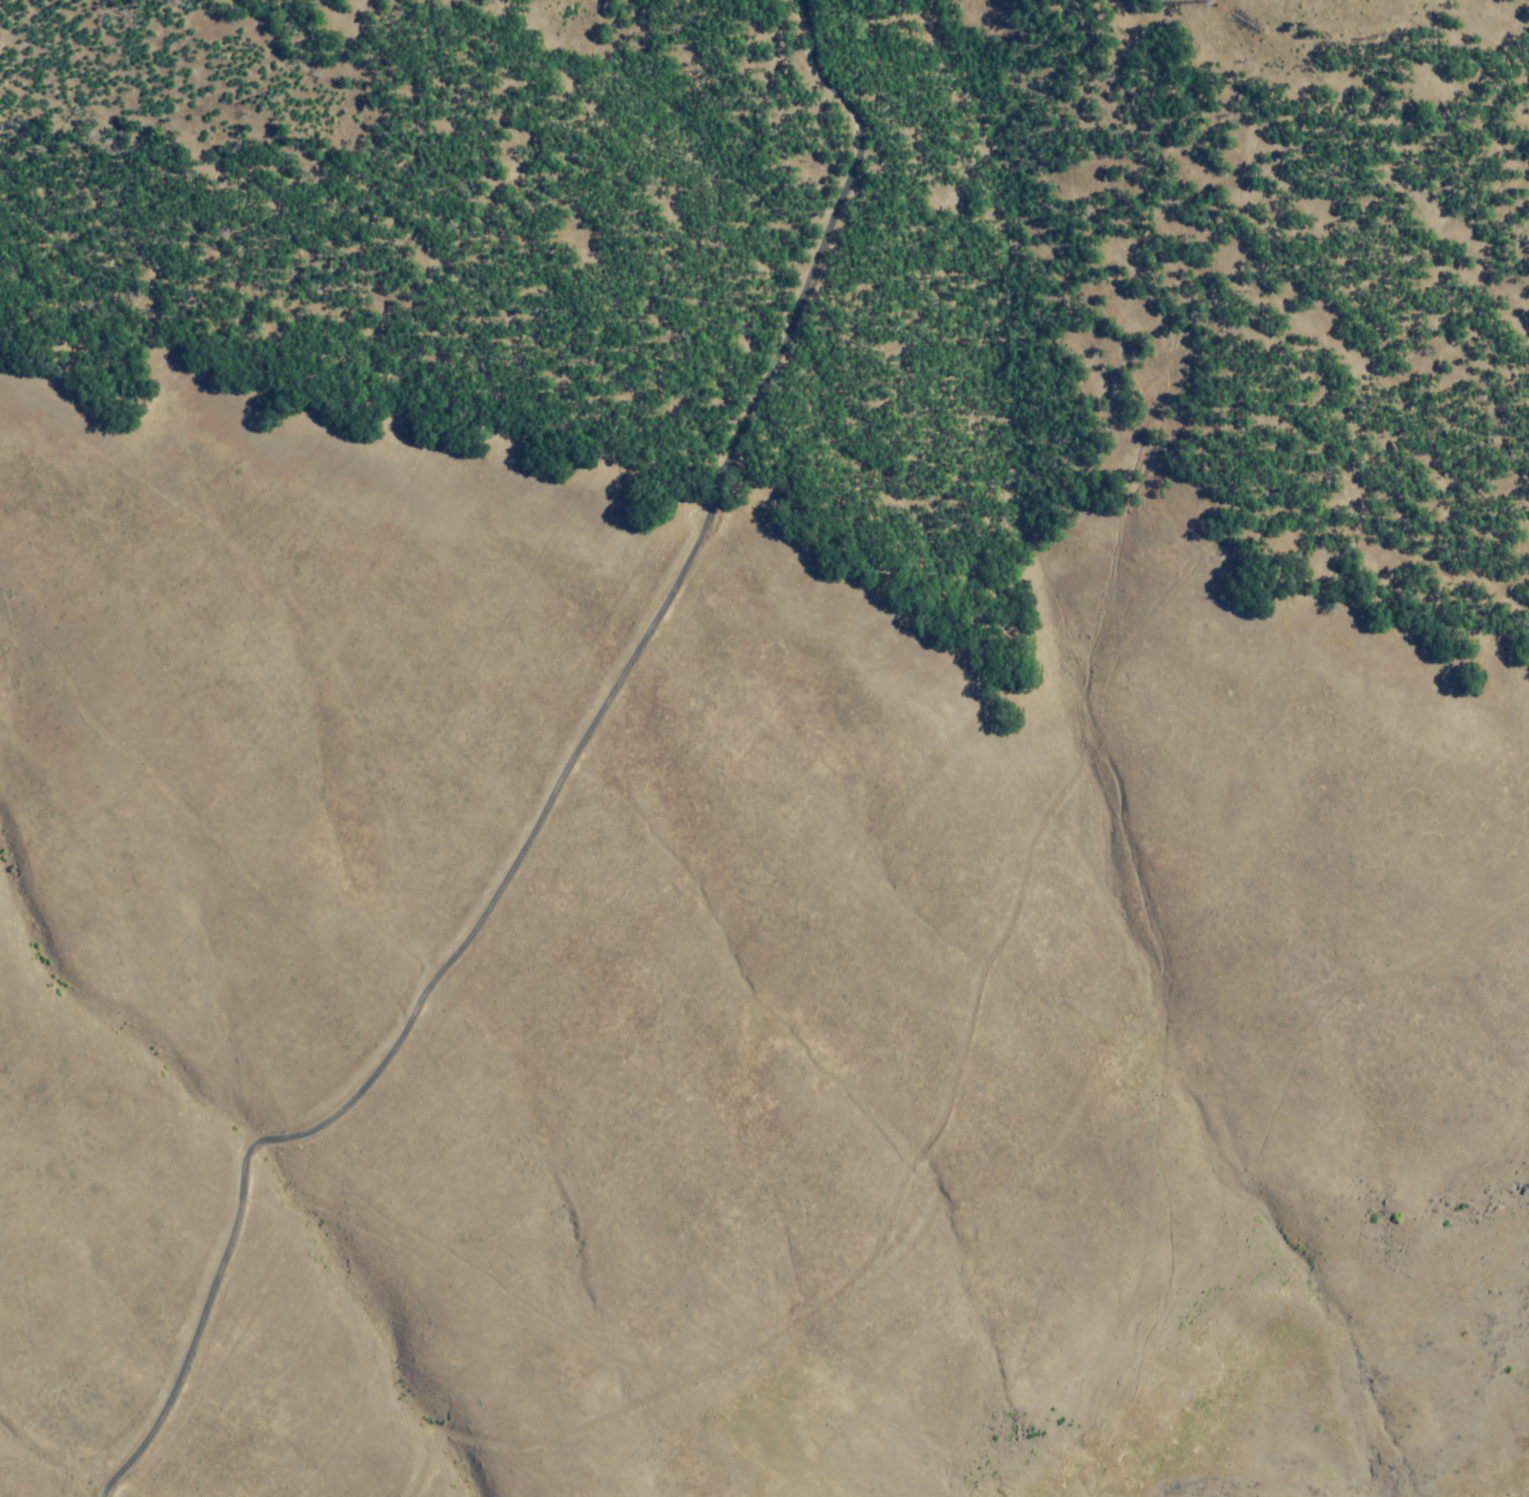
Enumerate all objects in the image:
road: (553, 788)

